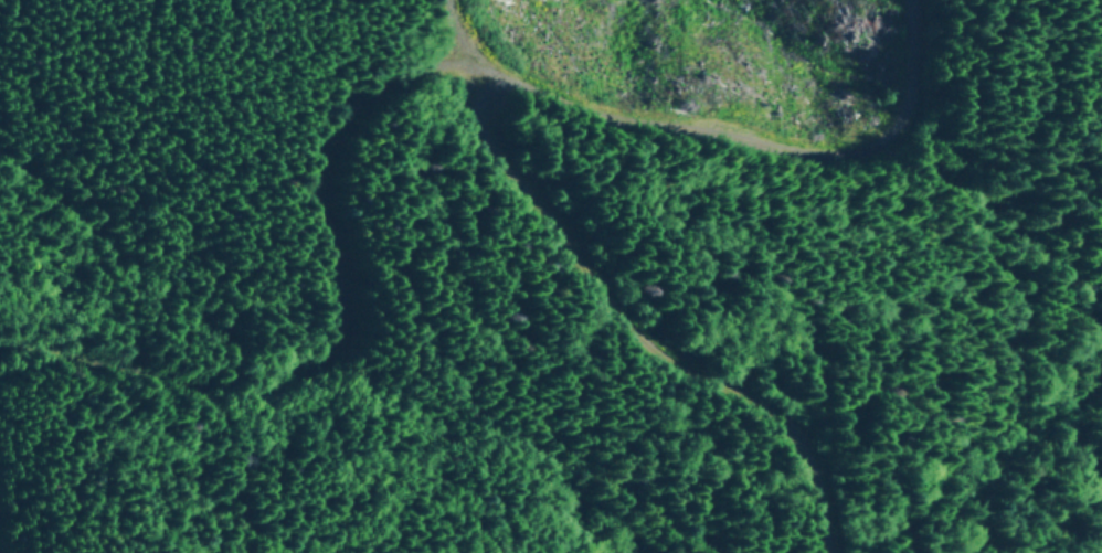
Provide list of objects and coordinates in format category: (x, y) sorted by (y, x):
road: (403, 83)

